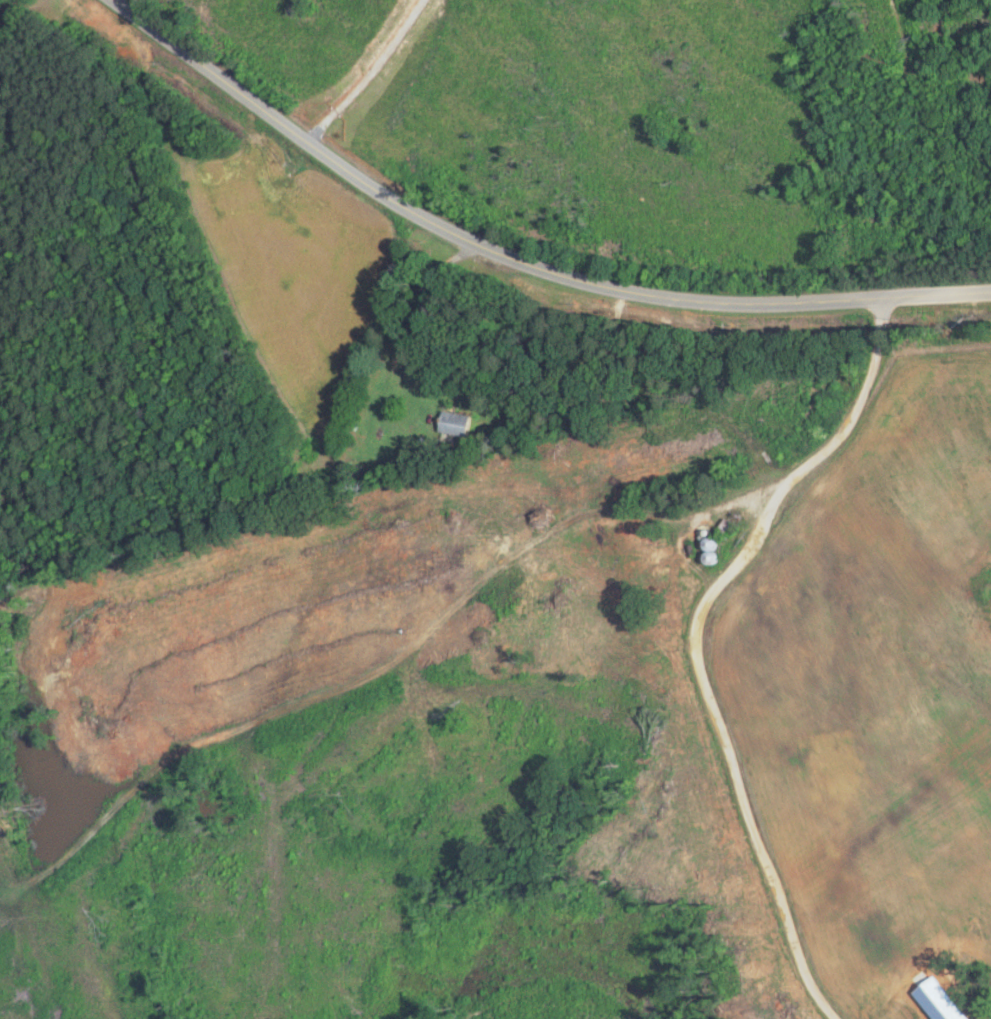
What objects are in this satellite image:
road: (518, 247)
building: (455, 423)
building: (348, 471)
building: (729, 526)
building: (715, 552)

